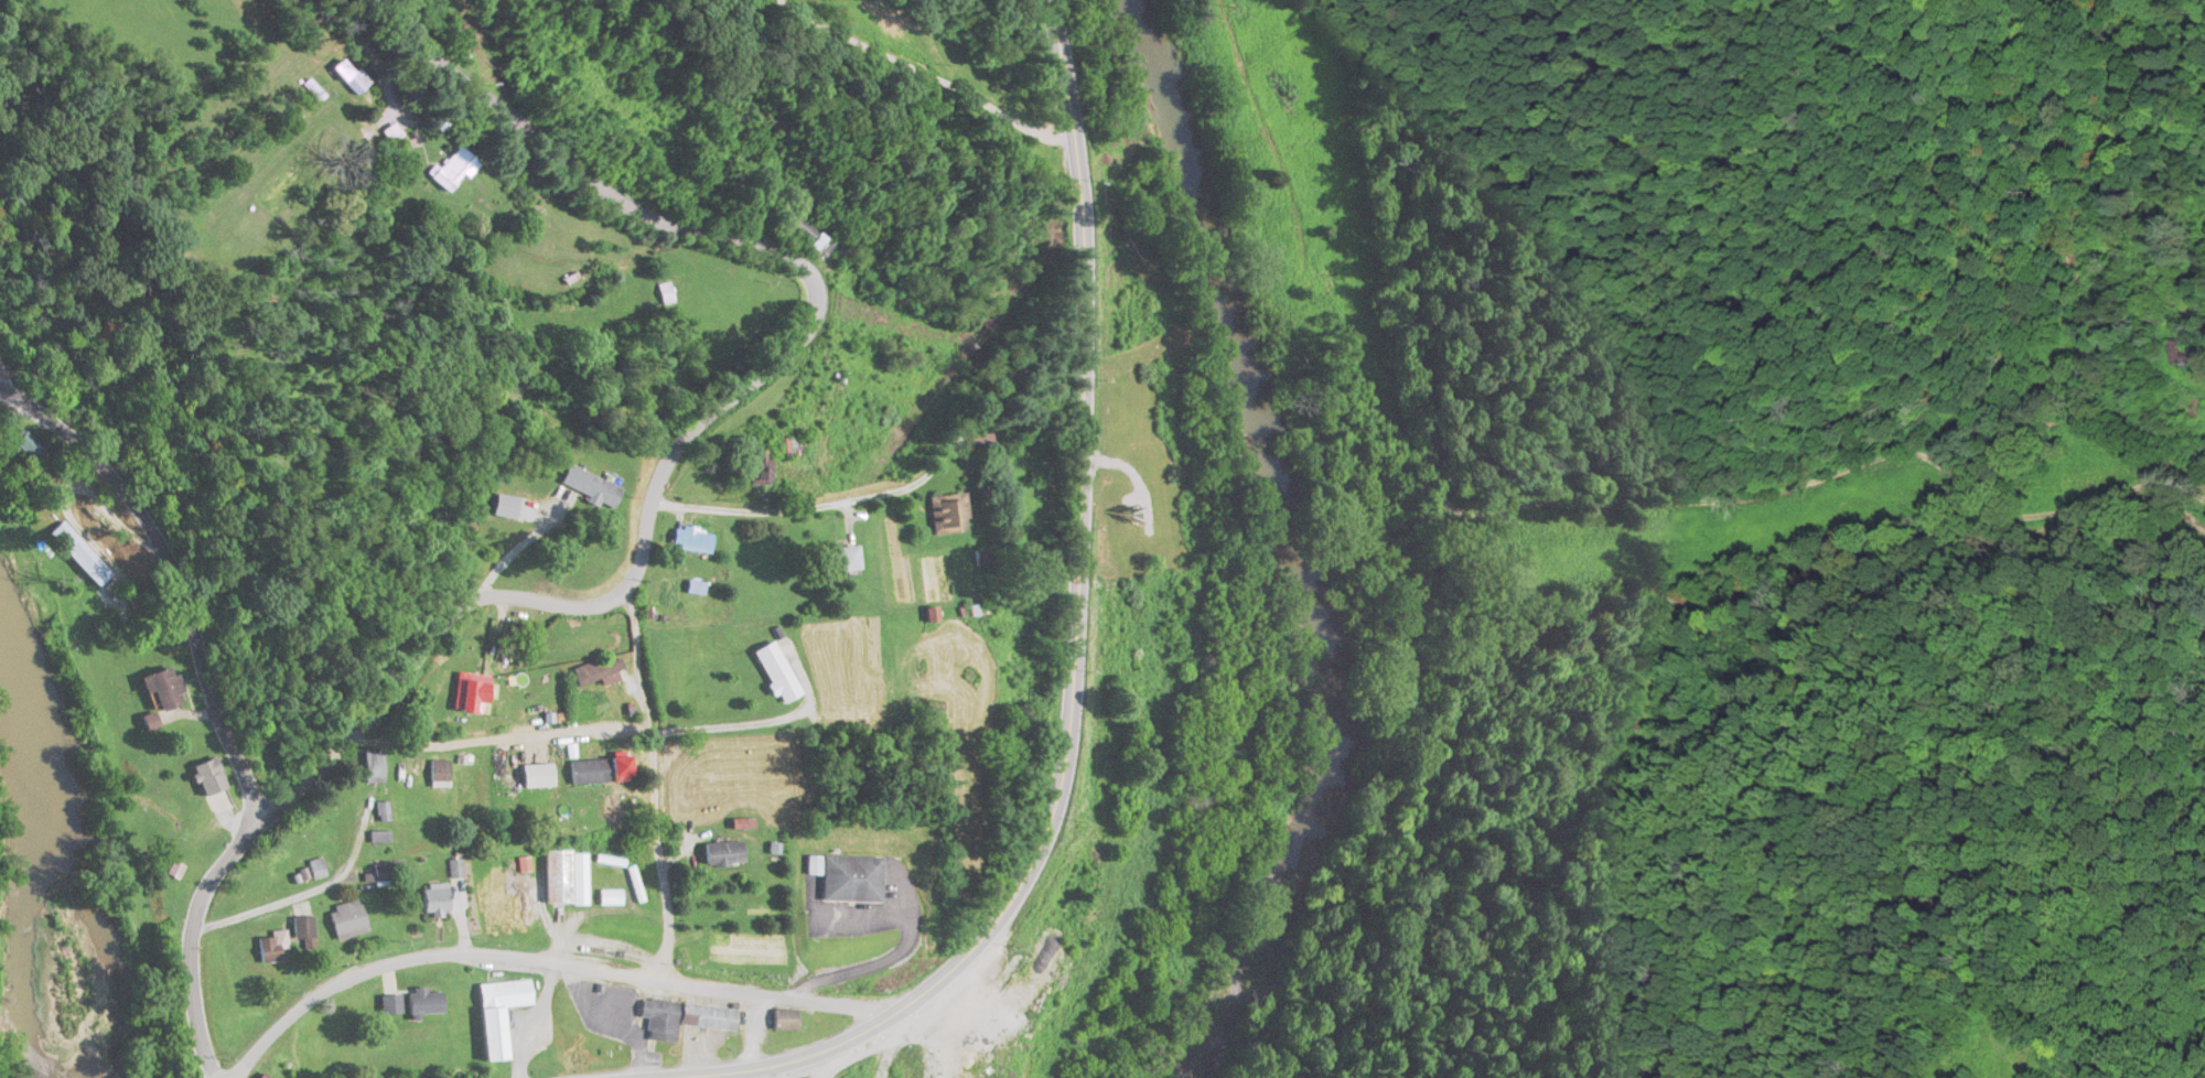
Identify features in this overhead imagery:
building: (353, 78)
road: (919, 86)
building: (313, 91)
building: (392, 133)
building: (454, 171)
road: (1077, 205)
building: (811, 239)
building: (667, 294)
building: (2187, 354)
road: (727, 400)
building: (32, 446)
building: (789, 448)
building: (760, 468)
building: (592, 488)
road: (1528, 494)
road: (802, 509)
building: (950, 516)
building: (693, 541)
river: (1280, 553)
building: (80, 556)
building: (847, 560)
road: (166, 584)
building: (596, 673)
building: (777, 675)
building: (165, 690)
building: (475, 697)
building: (937, 709)
road: (746, 722)
building: (197, 750)
building: (374, 768)
building: (622, 772)
building: (590, 774)
building: (211, 780)
road: (653, 787)
road: (1050, 826)
building: (380, 838)
building: (724, 856)
river: (29, 858)
building: (567, 880)
building: (852, 881)
building: (610, 899)
building: (438, 901)
road: (265, 907)
building: (348, 921)
building: (304, 935)
road: (191, 936)
building: (275, 949)
road: (544, 969)
building: (388, 1004)
building: (345, 1011)
building: (501, 1016)
building: (685, 1020)
building: (786, 1021)

